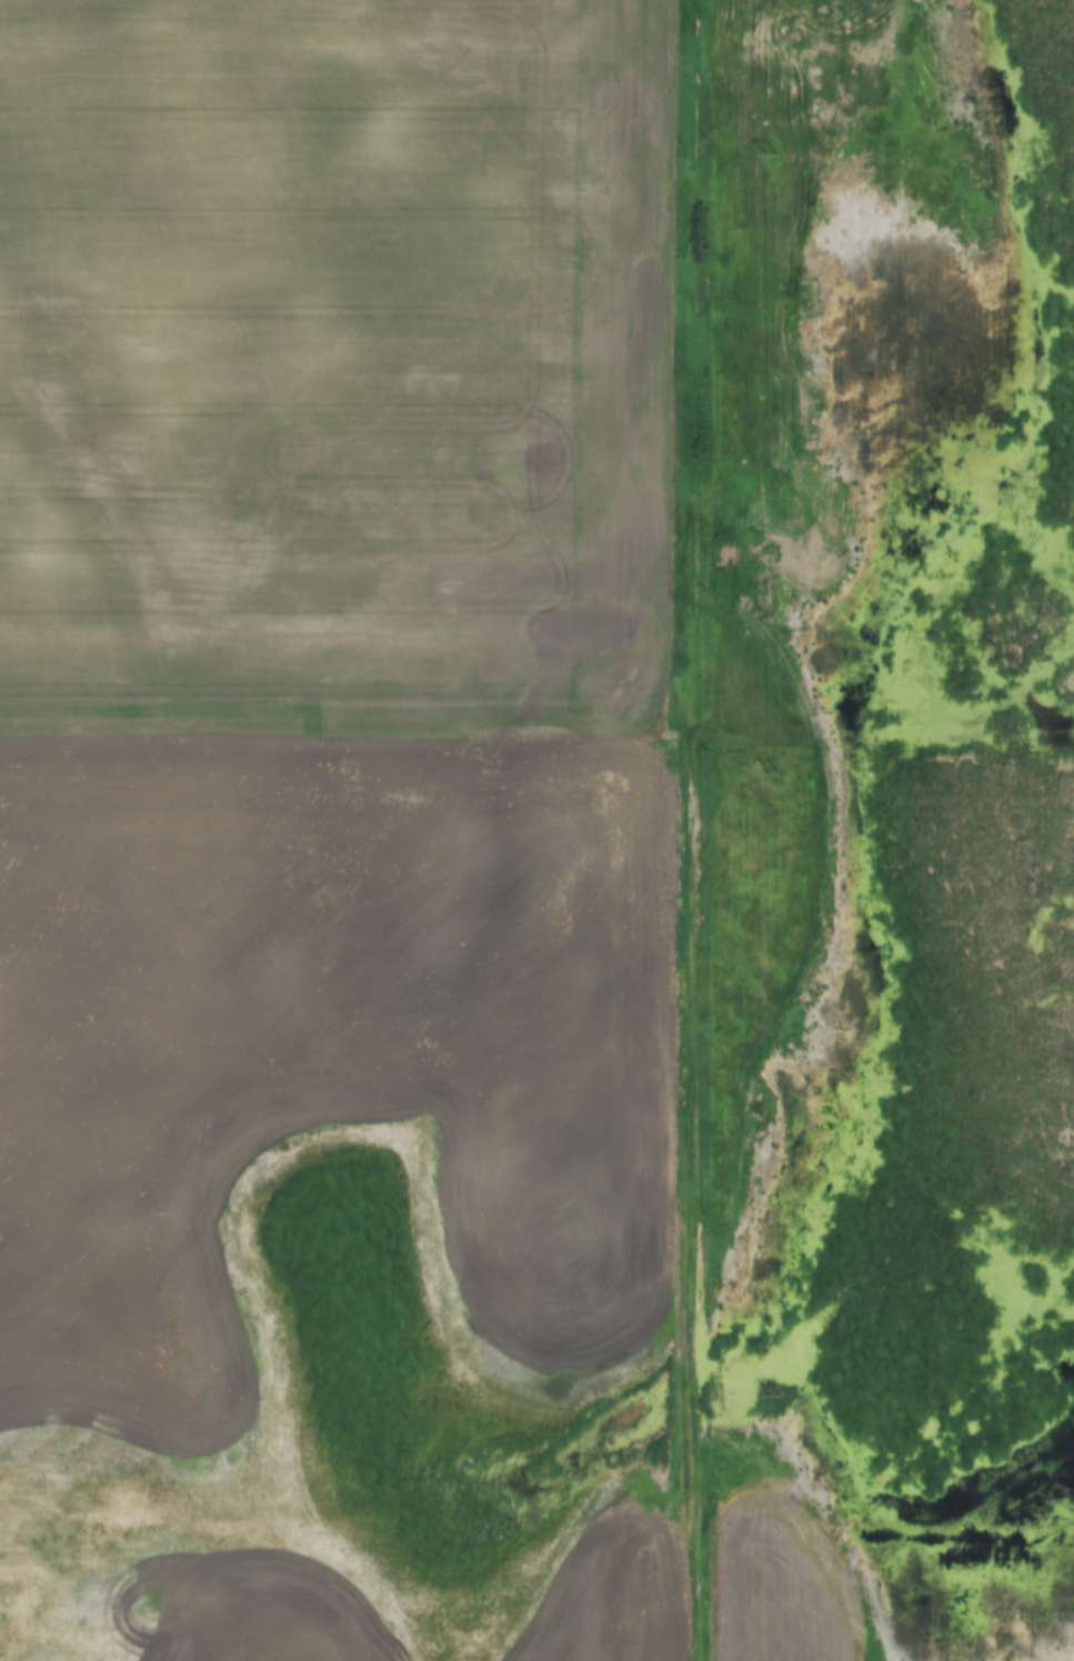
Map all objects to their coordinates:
power tower: (766, 153)
power tower: (767, 768)
road: (691, 830)
power tower: (767, 1395)

